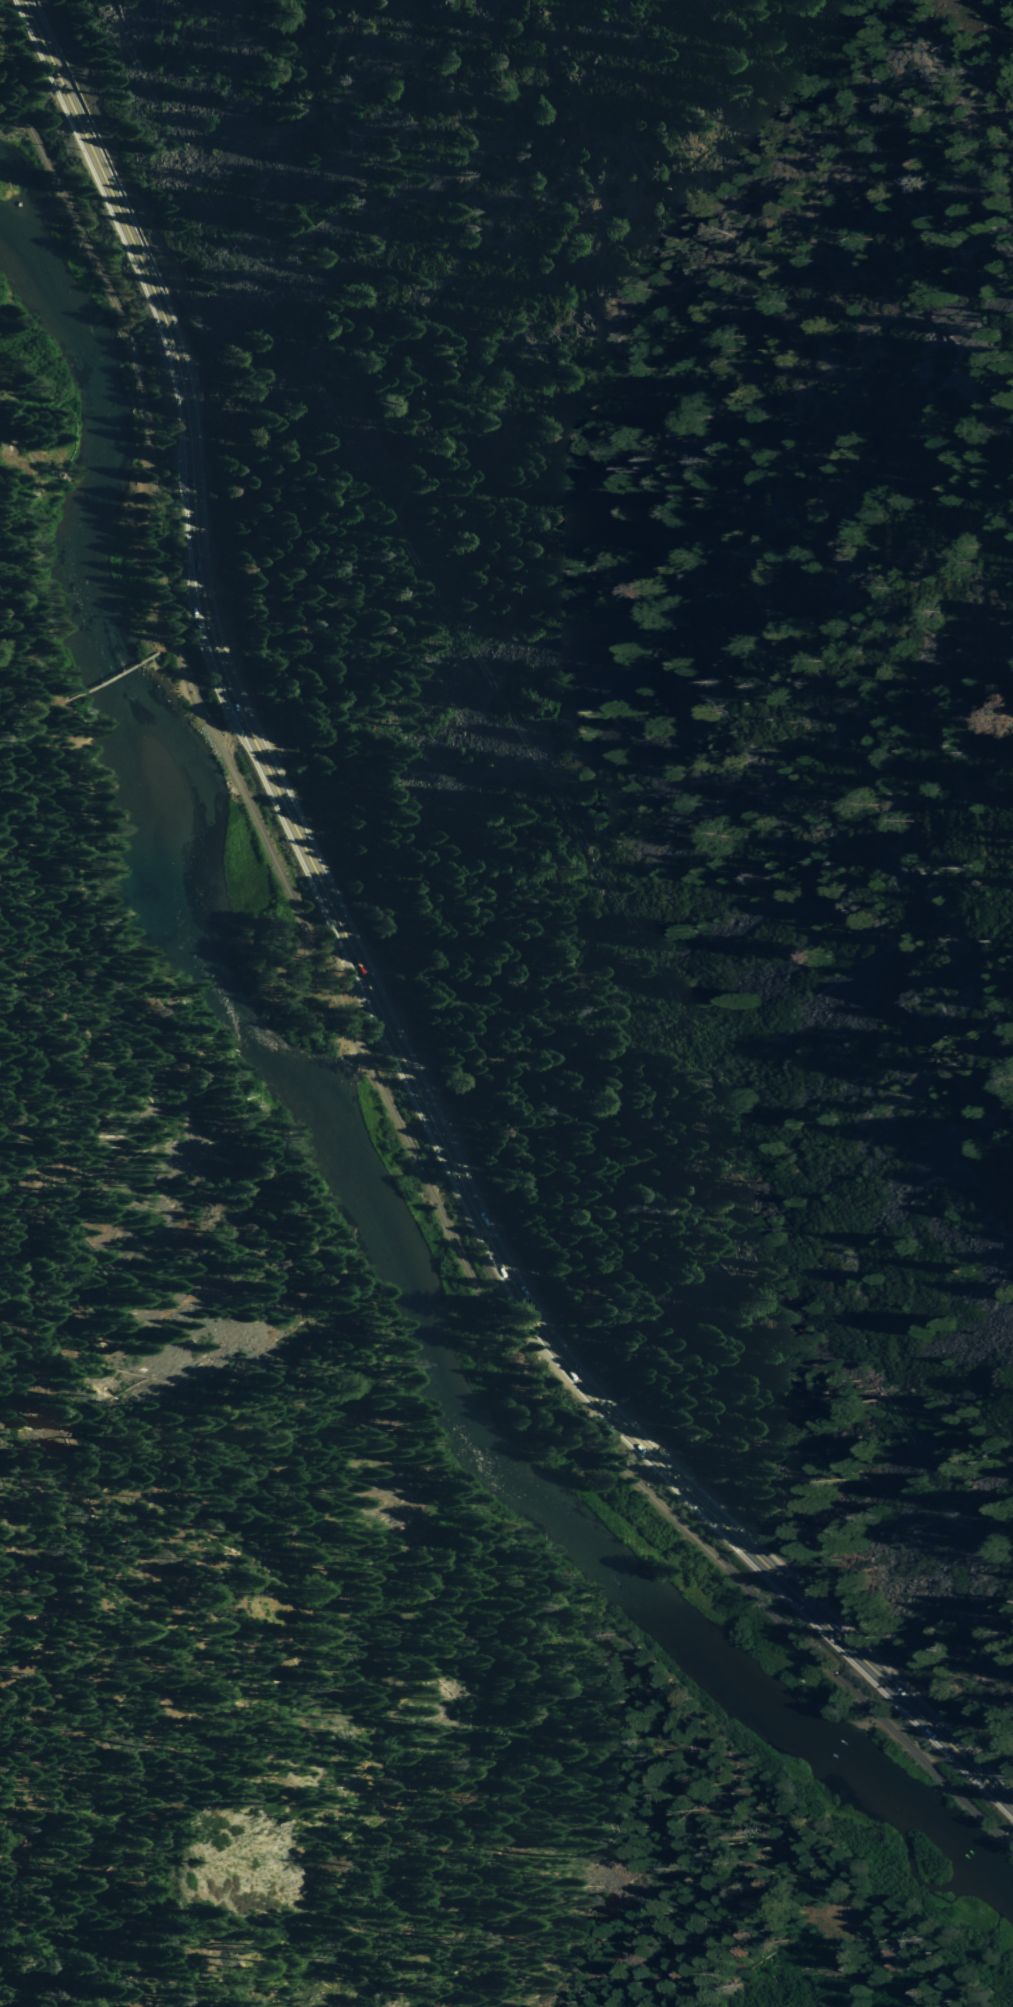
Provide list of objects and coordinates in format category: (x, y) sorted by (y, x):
road: (963, 38)
road: (166, 649)
power tower: (482, 674)
road: (27, 676)
road: (114, 677)
road: (230, 733)
power tower: (559, 809)
power tower: (636, 940)
road: (369, 988)
road: (355, 1041)
power tower: (716, 1077)
river: (336, 1150)
power tower: (805, 1228)
road: (327, 1300)
power tower: (885, 1363)
power tower: (974, 1513)

